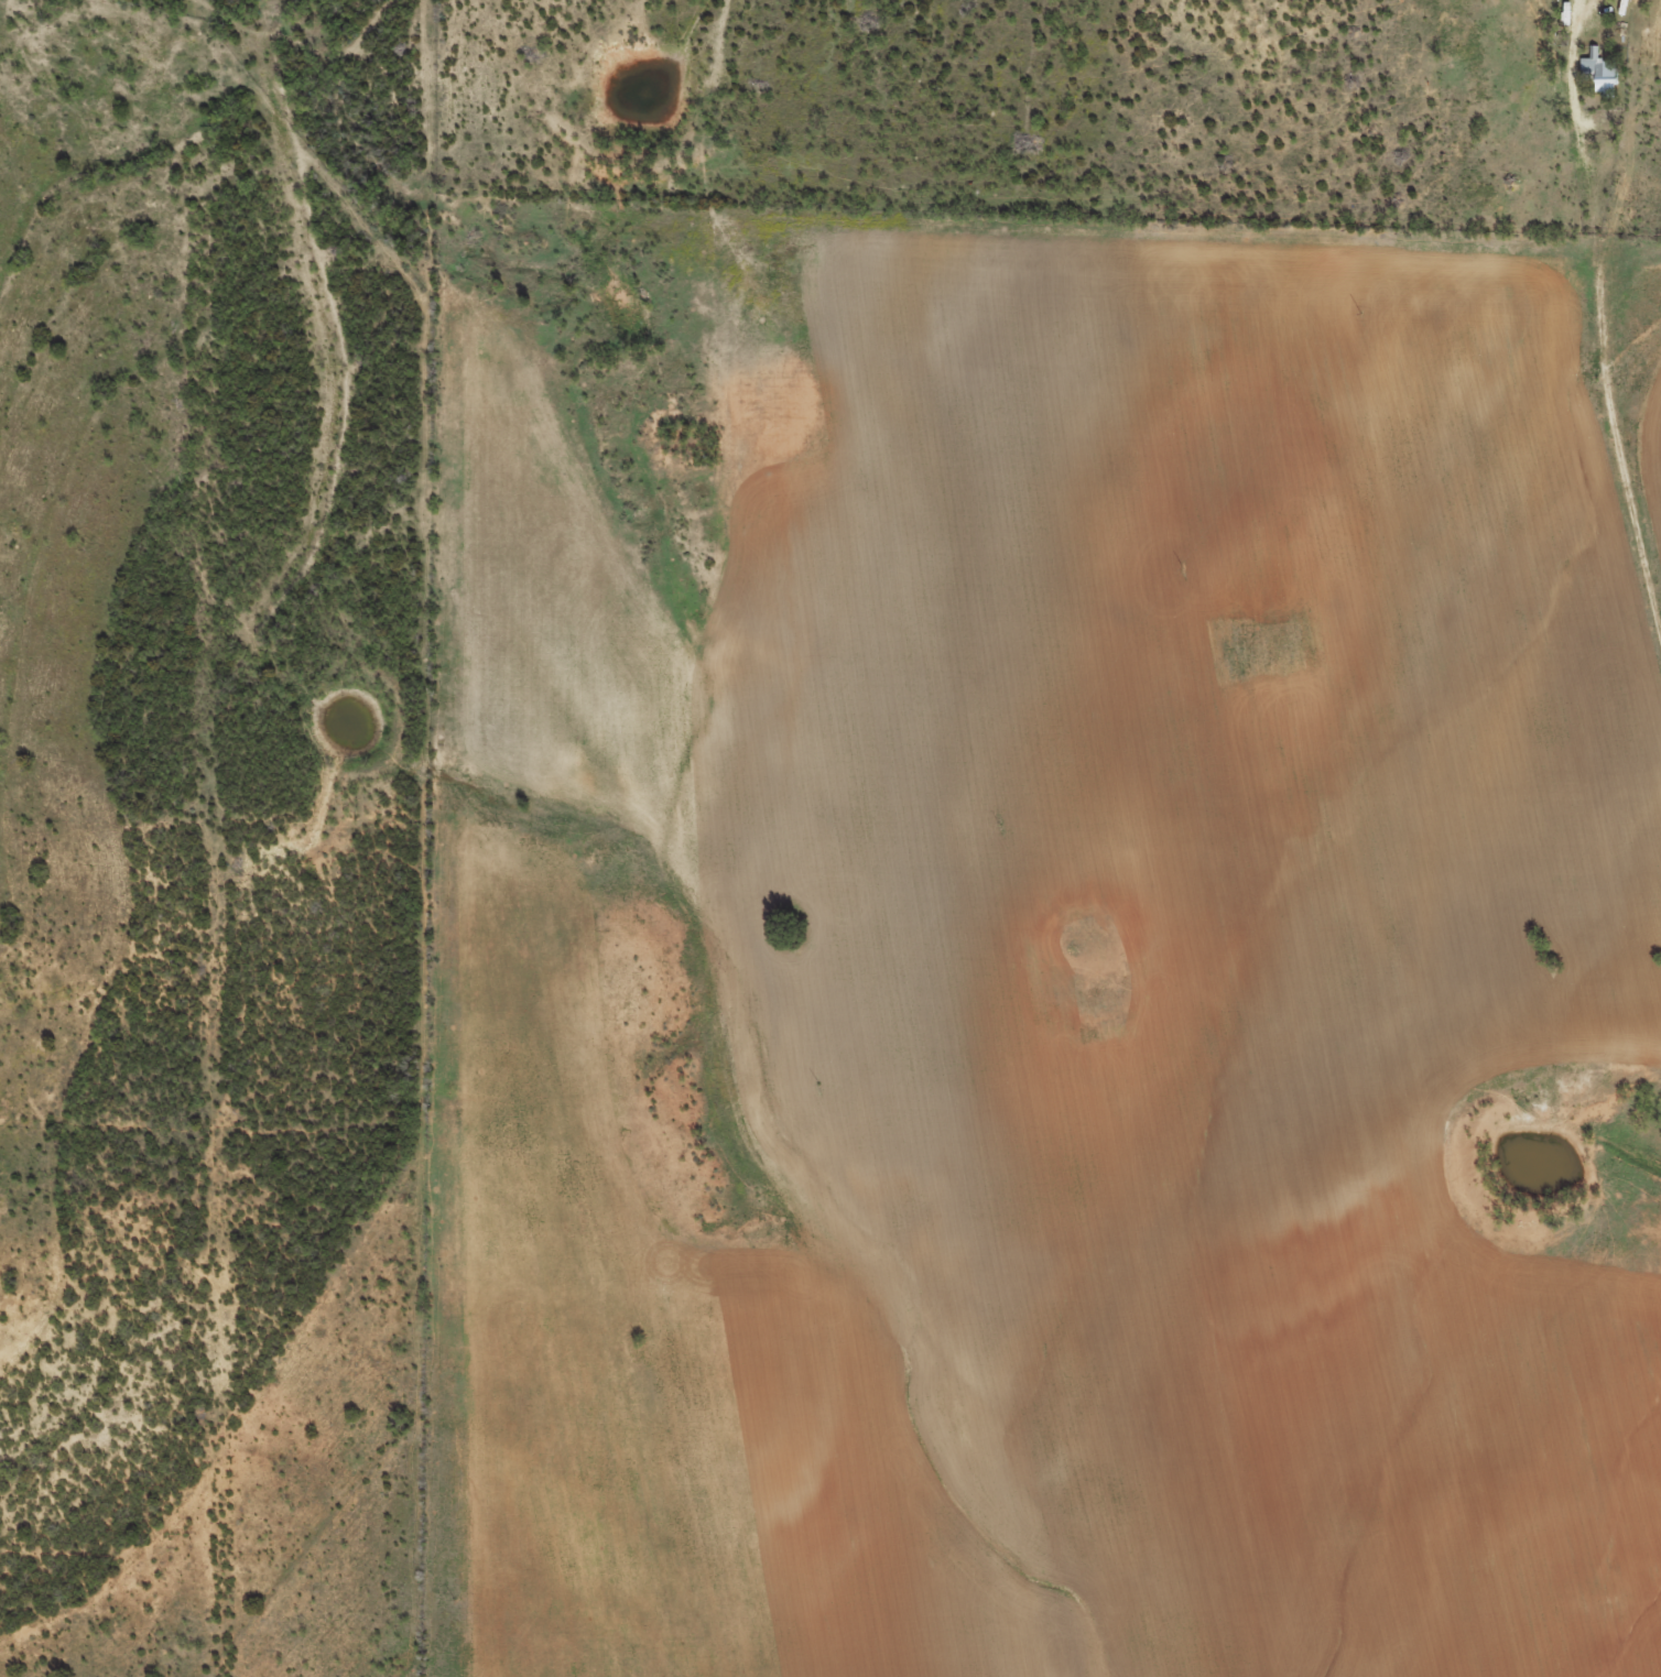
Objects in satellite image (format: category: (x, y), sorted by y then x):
road: (262, 95)
road: (1596, 286)

